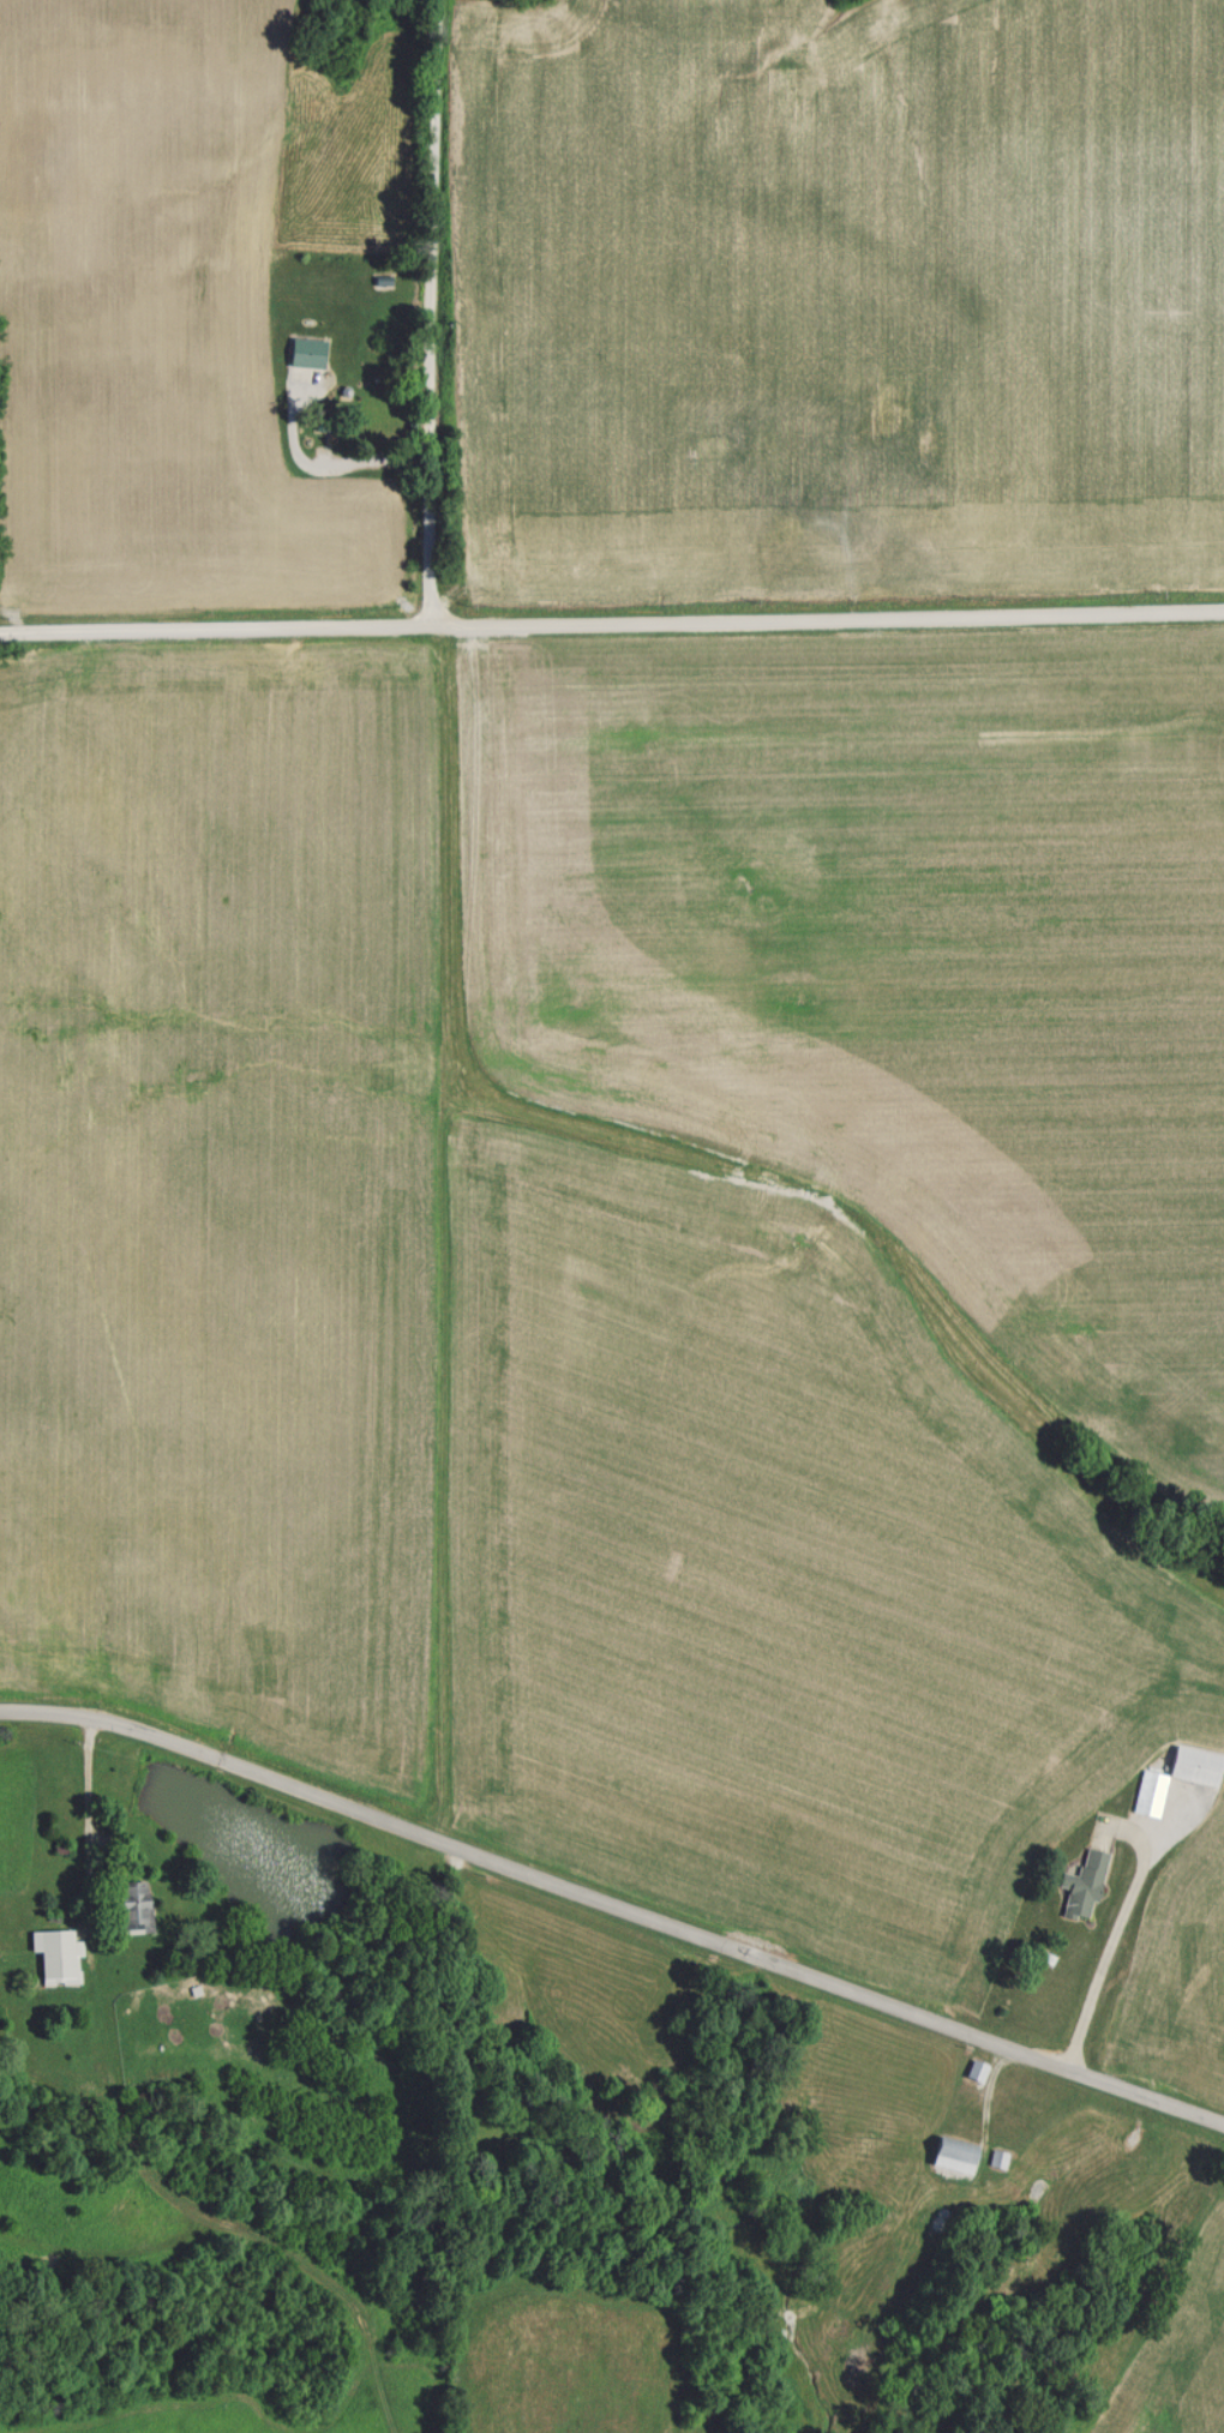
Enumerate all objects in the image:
building: (383, 145)
road: (438, 318)
road: (326, 467)
road: (612, 632)
building: (1176, 1774)
road: (95, 1803)
building: (1084, 1881)
road: (614, 1898)
building: (134, 1905)
road: (1118, 1926)
building: (55, 1953)
building: (976, 2068)
building: (953, 2153)

